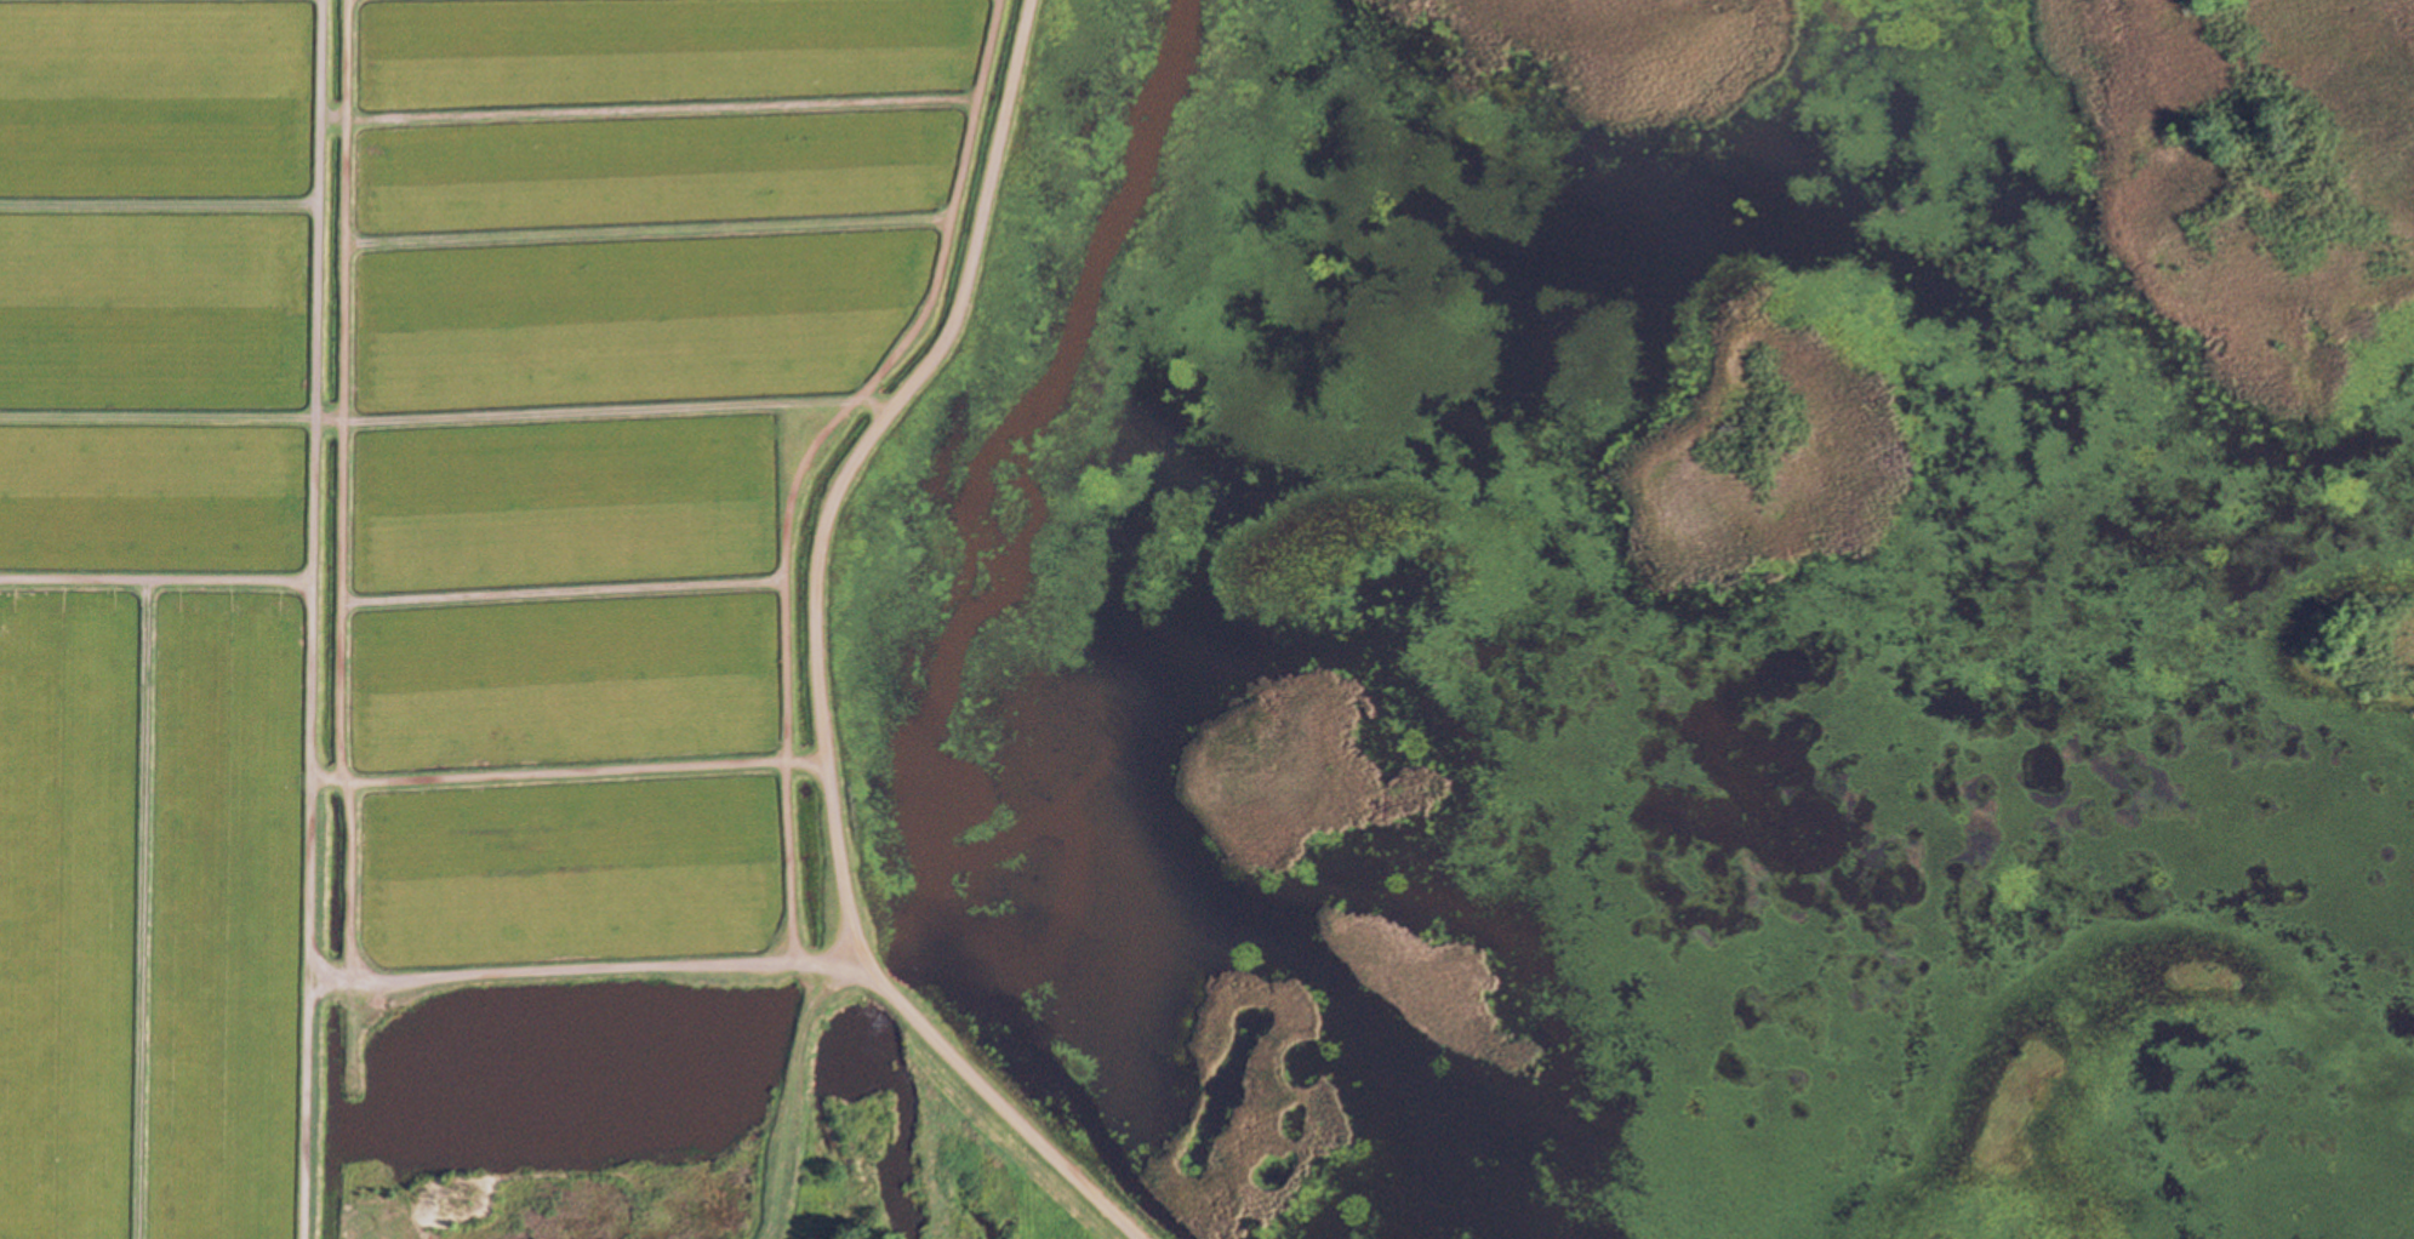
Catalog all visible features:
crop: (433, 523)
river: (1028, 526)

